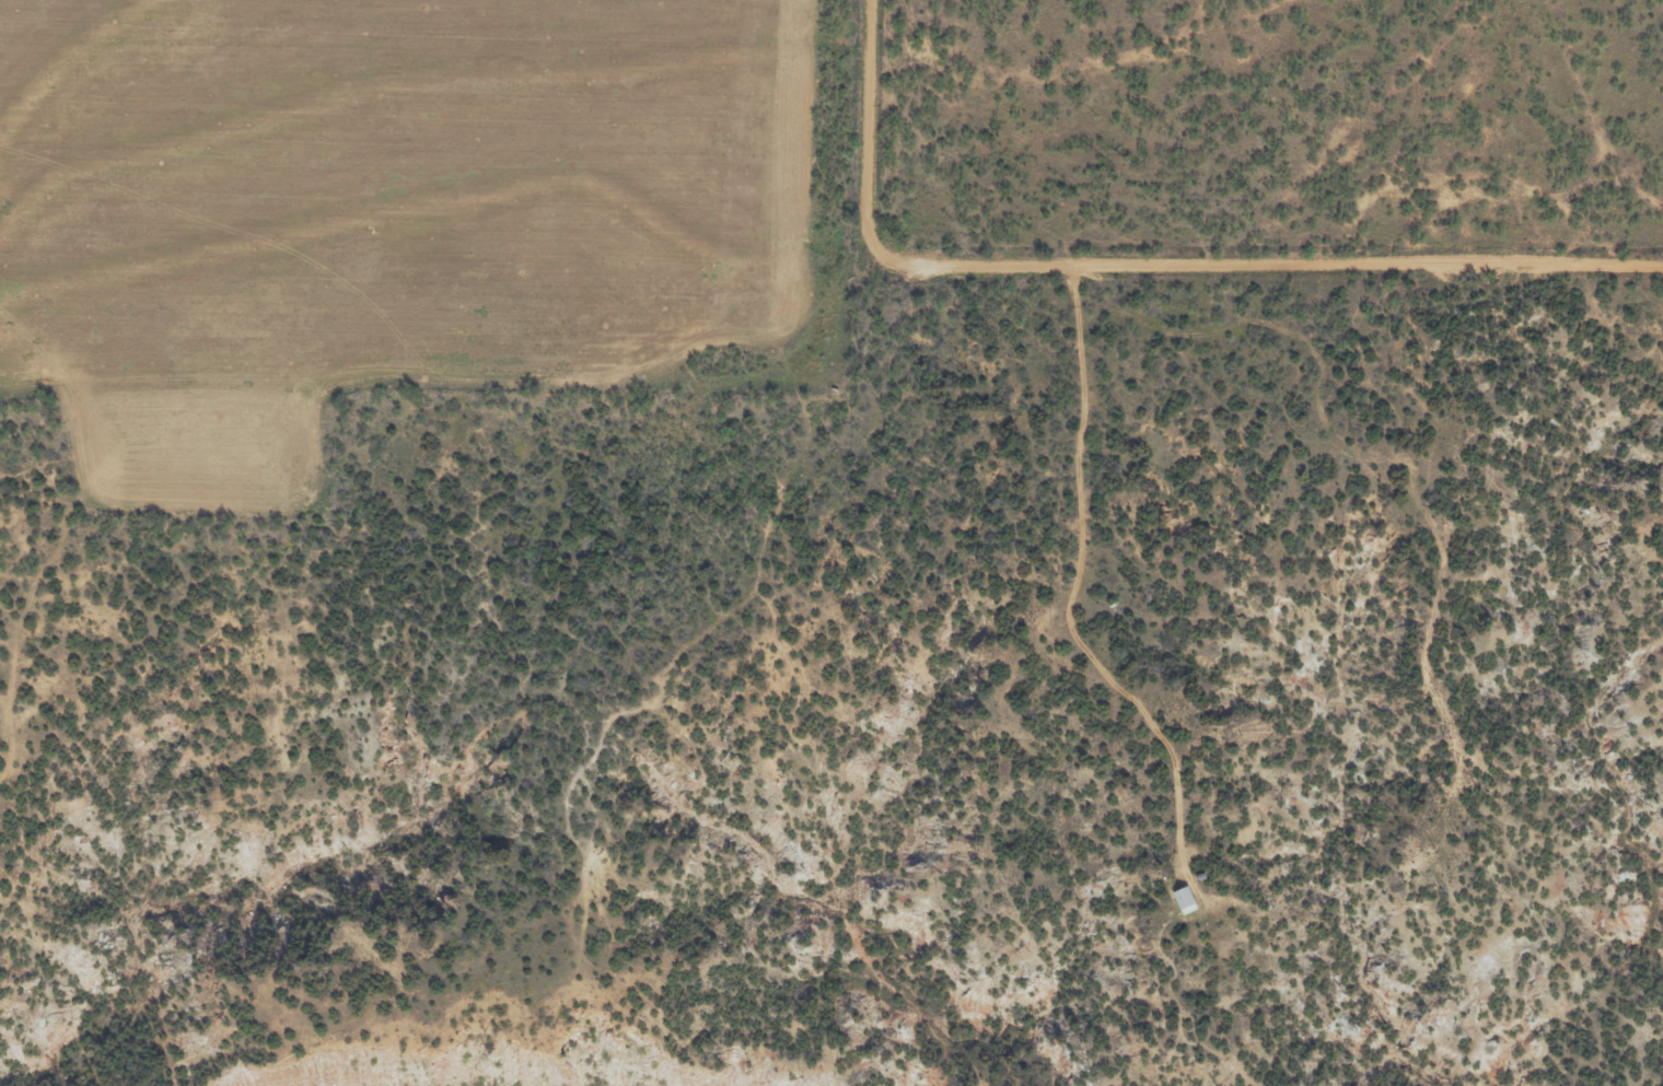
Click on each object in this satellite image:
road: (1143, 261)
building: (1185, 900)

